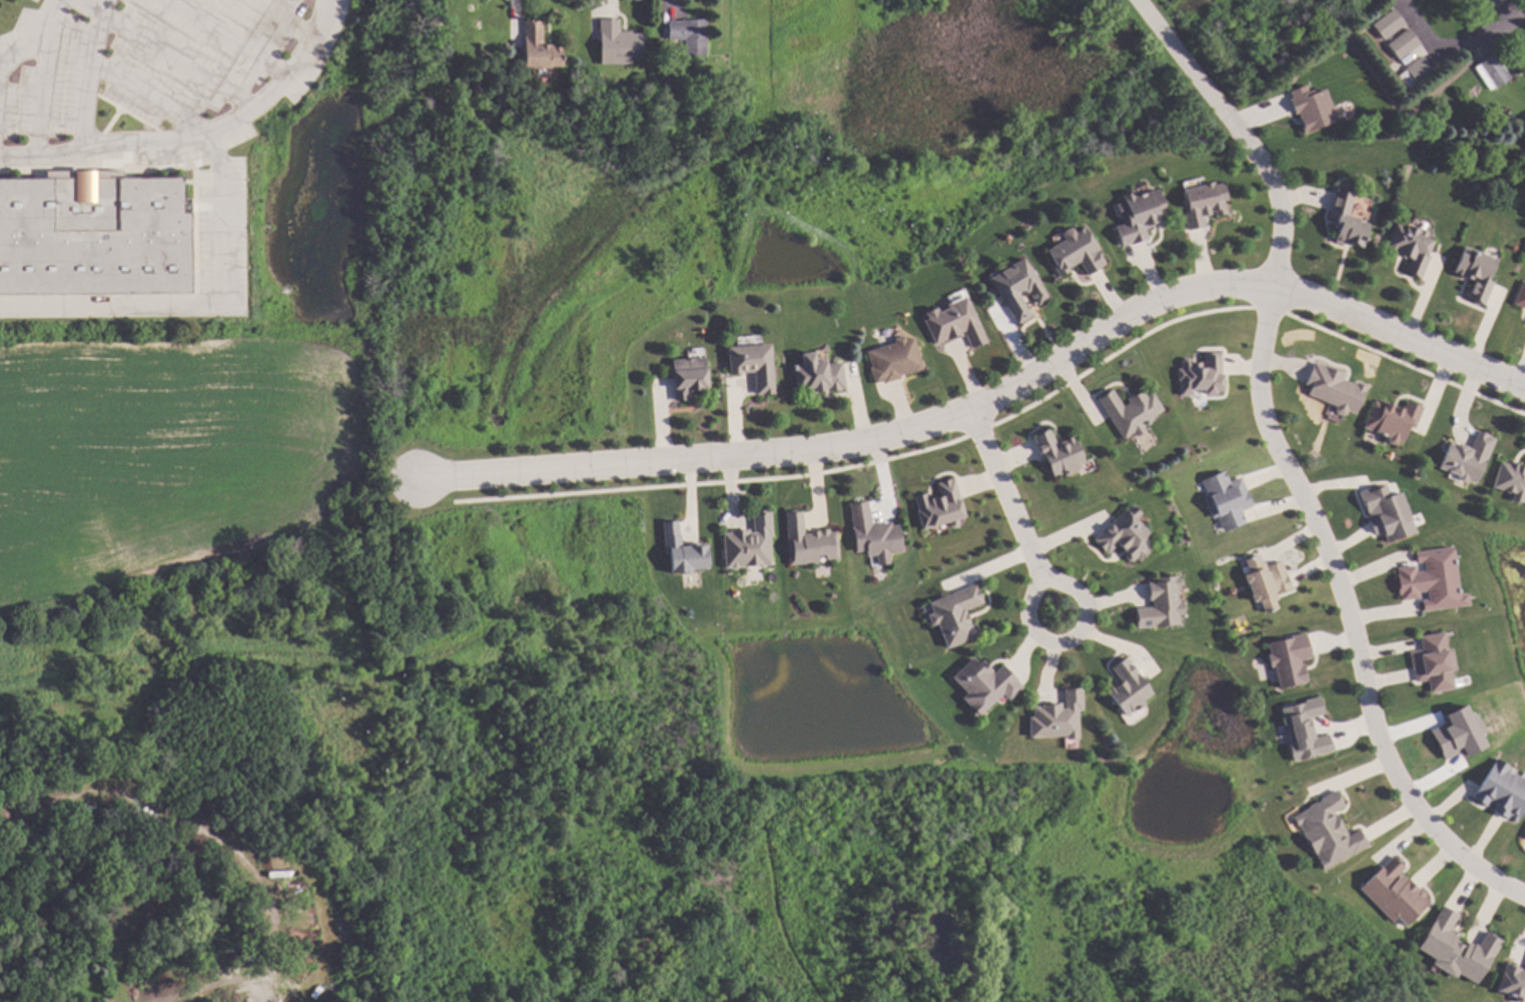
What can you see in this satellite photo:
building: (1494, 2)
road: (92, 5)
building: (1390, 23)
road: (1493, 32)
building: (691, 35)
building: (620, 43)
building: (1405, 43)
building: (541, 46)
building: (1501, 50)
road: (20, 53)
road: (751, 69)
building: (1494, 70)
building: (668, 73)
building: (1418, 73)
road: (38, 78)
road: (88, 79)
building: (502, 84)
building: (1310, 108)
road: (1241, 133)
road: (106, 148)
building: (1204, 203)
building: (1140, 214)
building: (1345, 220)
building: (94, 234)
road: (215, 236)
building: (1410, 247)
building: (1076, 252)
building: (1475, 273)
building: (1019, 288)
building: (1521, 296)
building: (955, 324)
building: (894, 360)
building: (754, 365)
building: (1199, 375)
building: (689, 376)
building: (818, 376)
building: (1335, 389)
road: (989, 396)
building: (1131, 410)
building: (1393, 419)
building: (1059, 454)
building: (1468, 457)
crop: (179, 460)
building: (1511, 479)
road: (1004, 494)
building: (1228, 500)
building: (940, 508)
building: (1387, 514)
building: (1127, 533)
building: (874, 535)
building: (809, 542)
building: (751, 544)
building: (683, 550)
building: (1433, 580)
building: (1266, 583)
building: (1162, 603)
building: (957, 615)
road: (1348, 618)
road: (1072, 640)
building: (1287, 660)
building: (1434, 663)
building: (983, 685)
building: (1129, 686)
building: (1059, 715)
building: (1302, 731)
building: (1457, 734)
building: (1503, 789)
building: (1327, 830)
building: (1524, 834)
building: (1394, 891)
building: (1457, 947)
building: (1513, 982)

